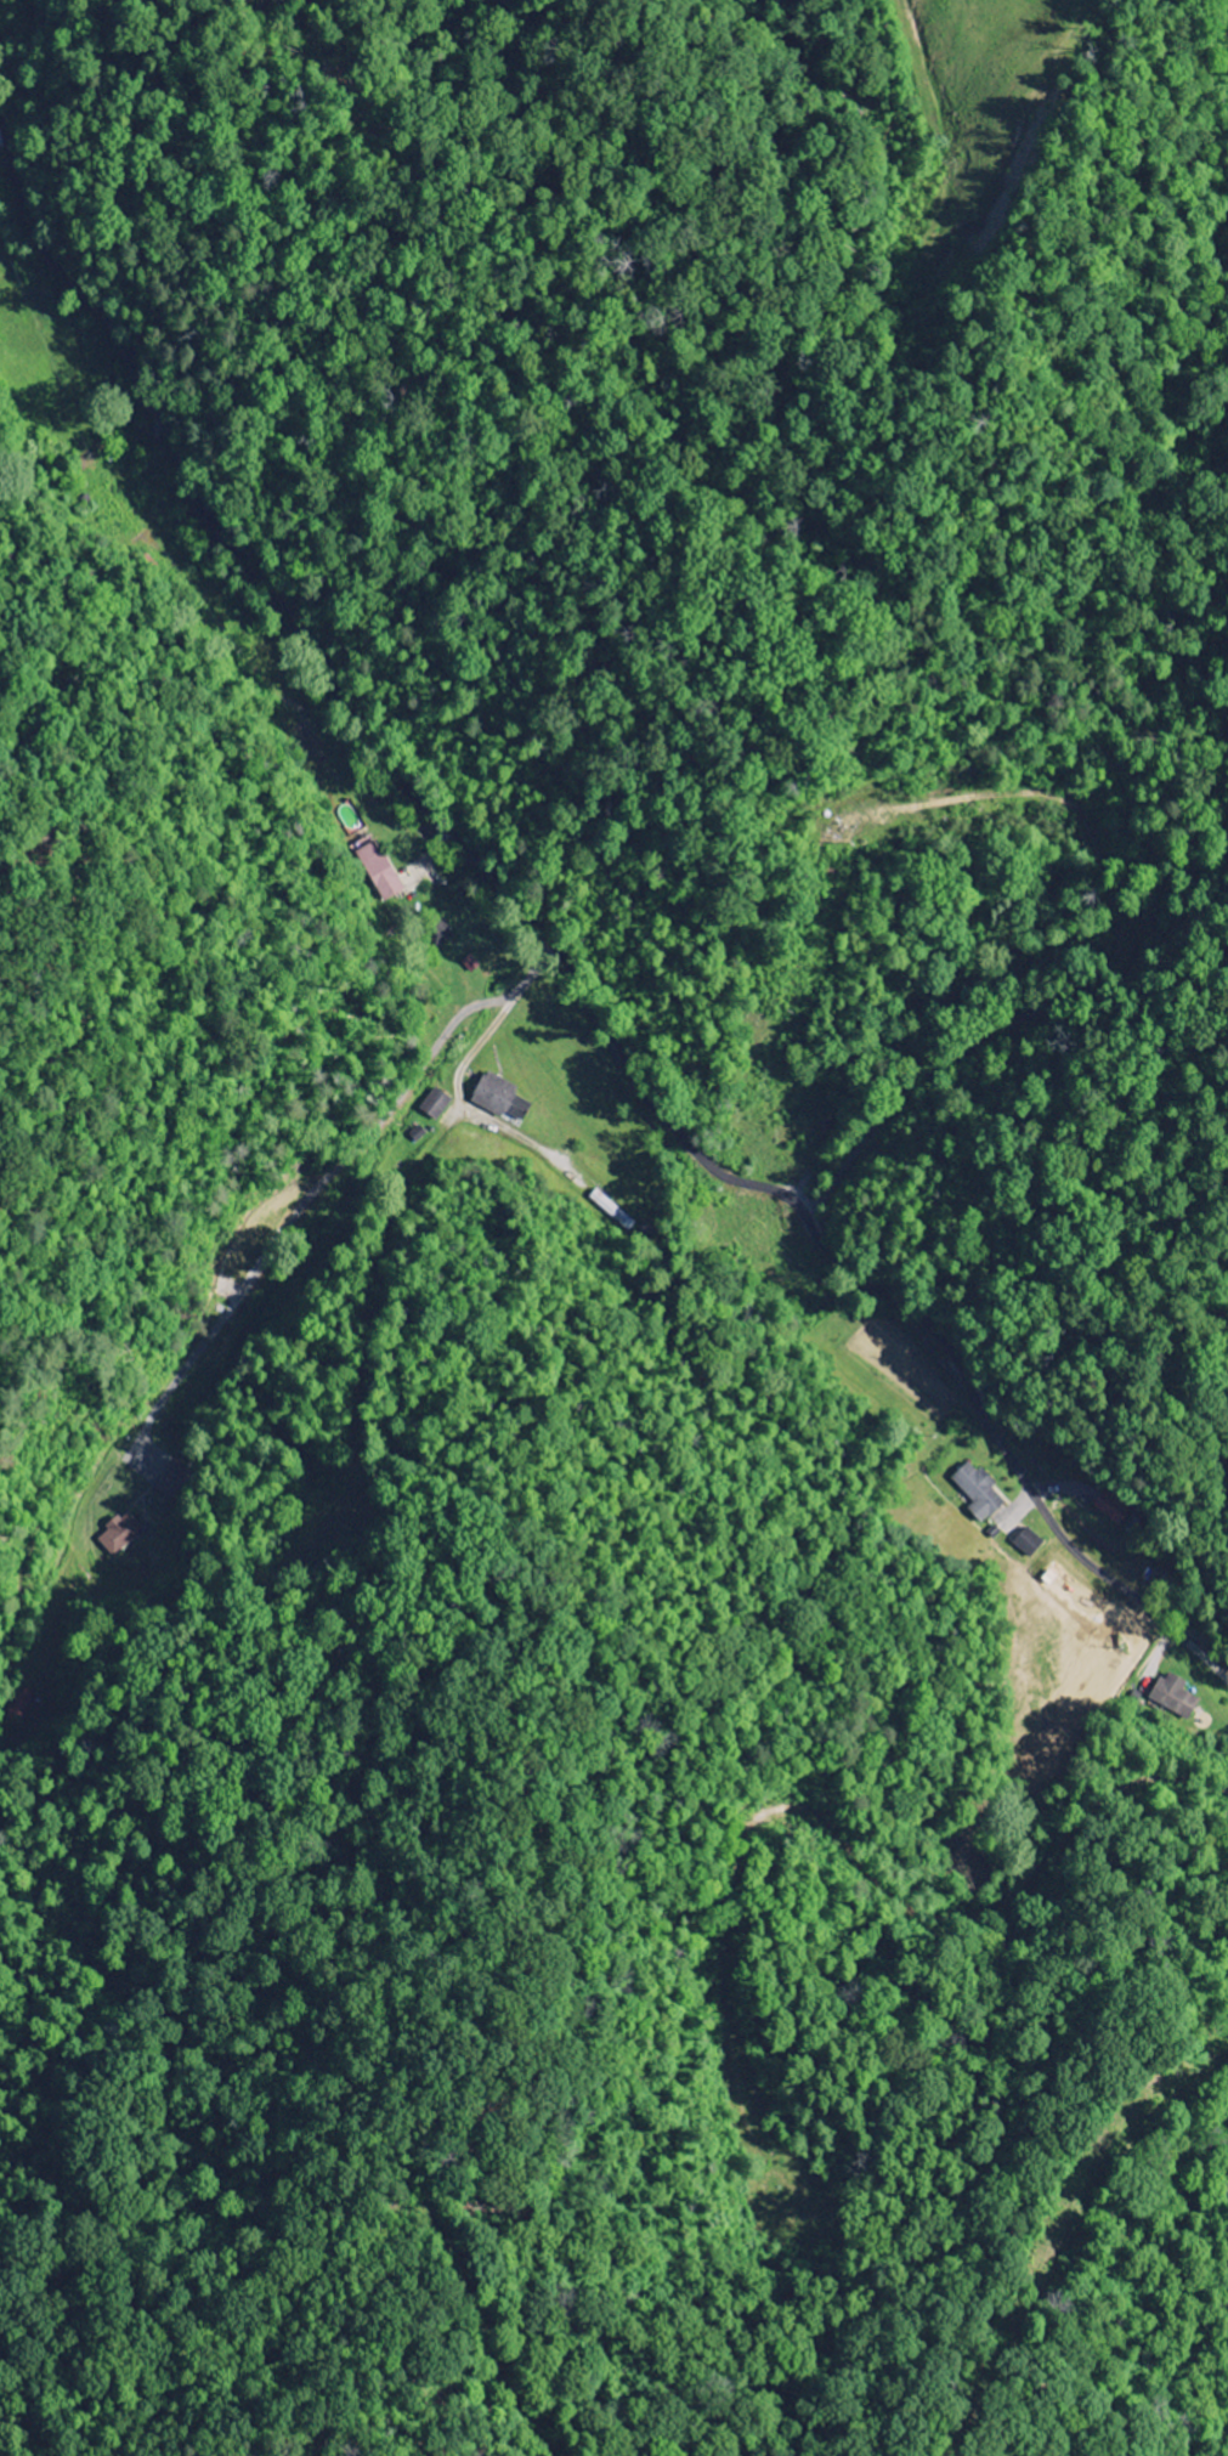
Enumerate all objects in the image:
river: (0, 1)
building: (379, 871)
building: (437, 936)
road: (555, 950)
building: (499, 1098)
building: (435, 1104)
road: (329, 1176)
building: (175, 1483)
building: (978, 1492)
building: (1111, 1510)
building: (119, 1534)
building: (1029, 1543)
building: (1175, 1697)
building: (21, 1705)

